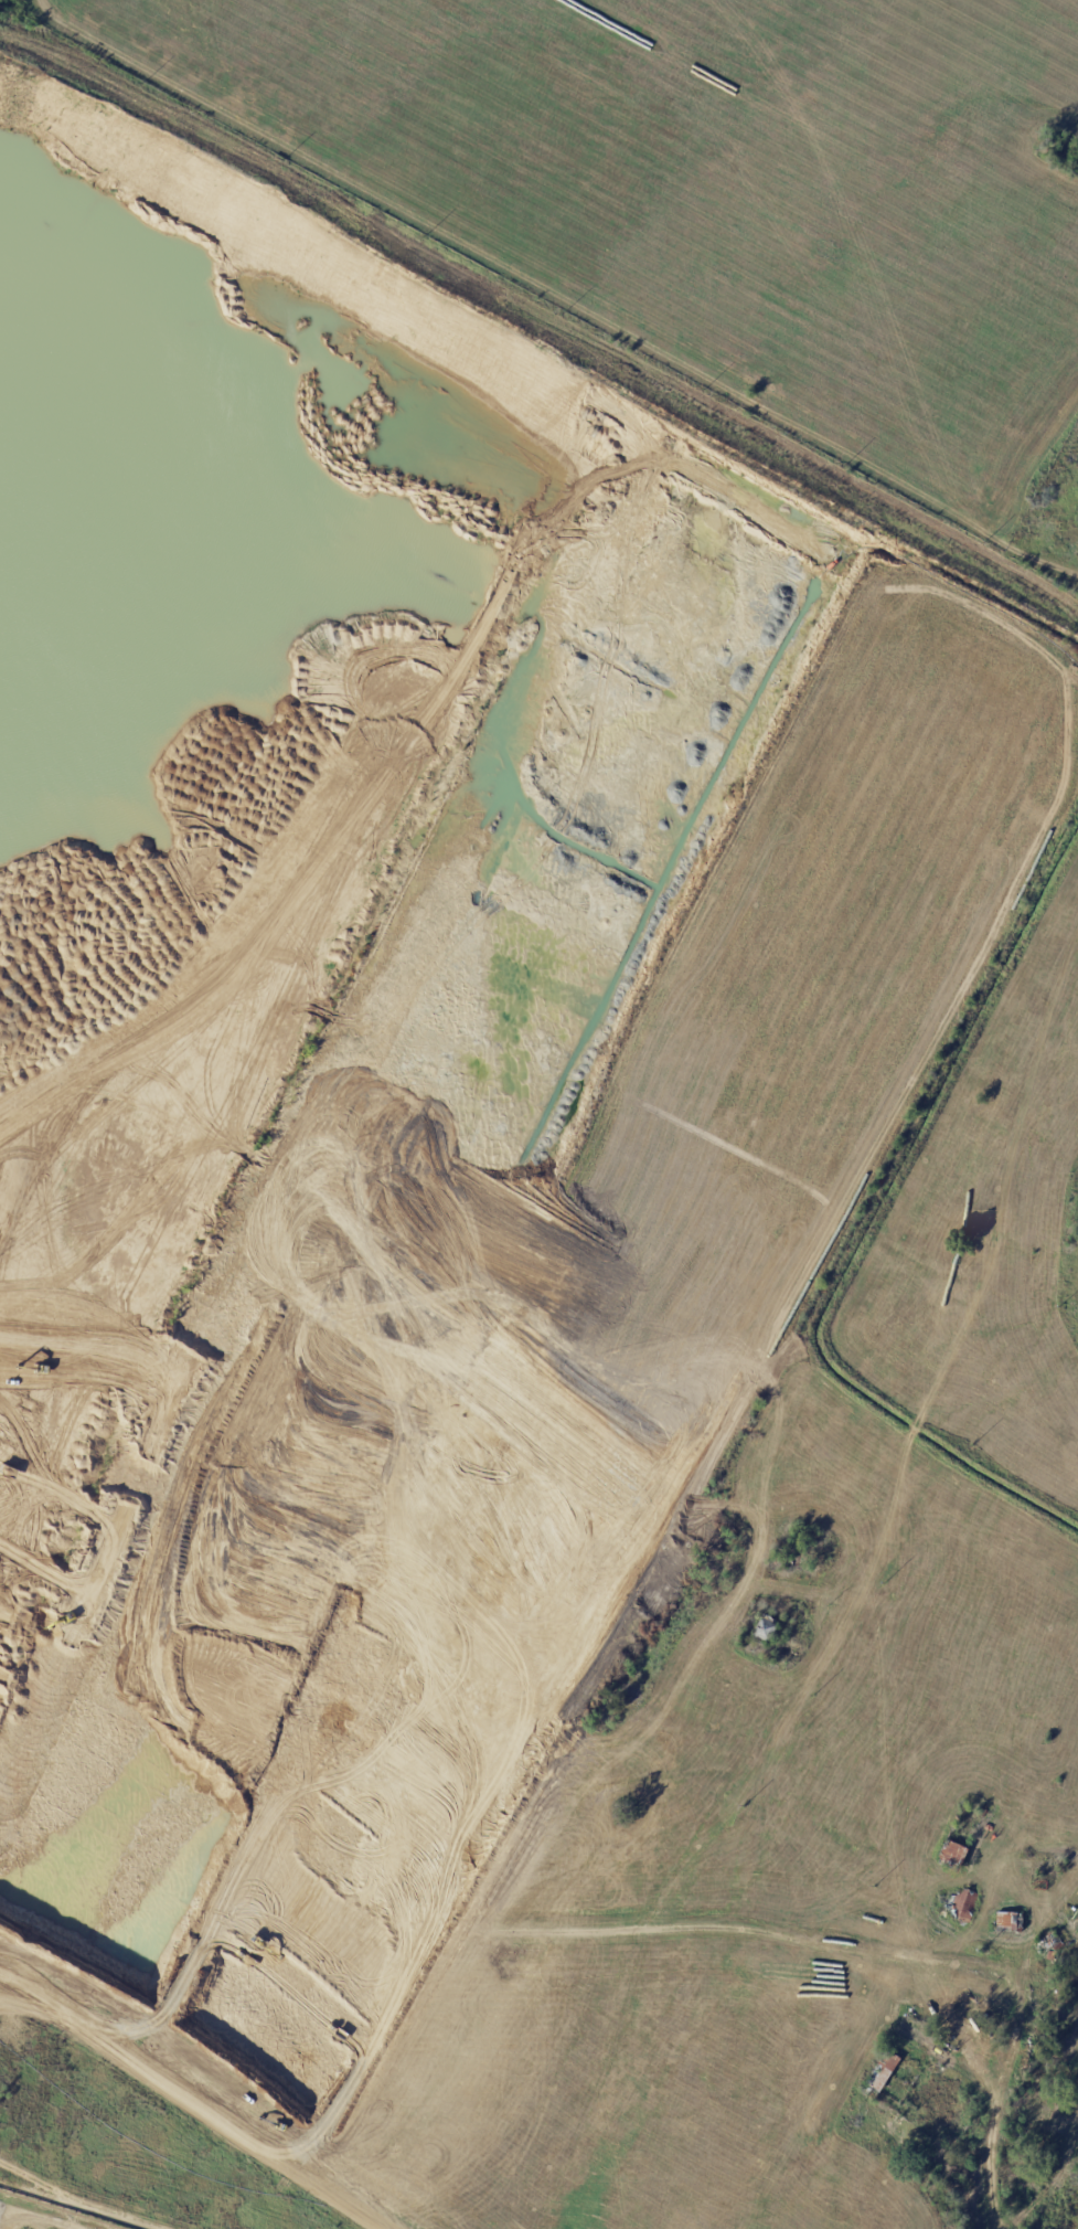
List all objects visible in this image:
quarry: (461, 1217)
road: (890, 1516)
building: (783, 1562)
building: (765, 1632)
building: (952, 1855)
building: (963, 1903)
building: (948, 1904)
building: (1010, 1922)
road: (430, 1929)
building: (1047, 1941)
building: (978, 2039)
building: (880, 2073)
road: (196, 2094)
building: (802, 2136)

